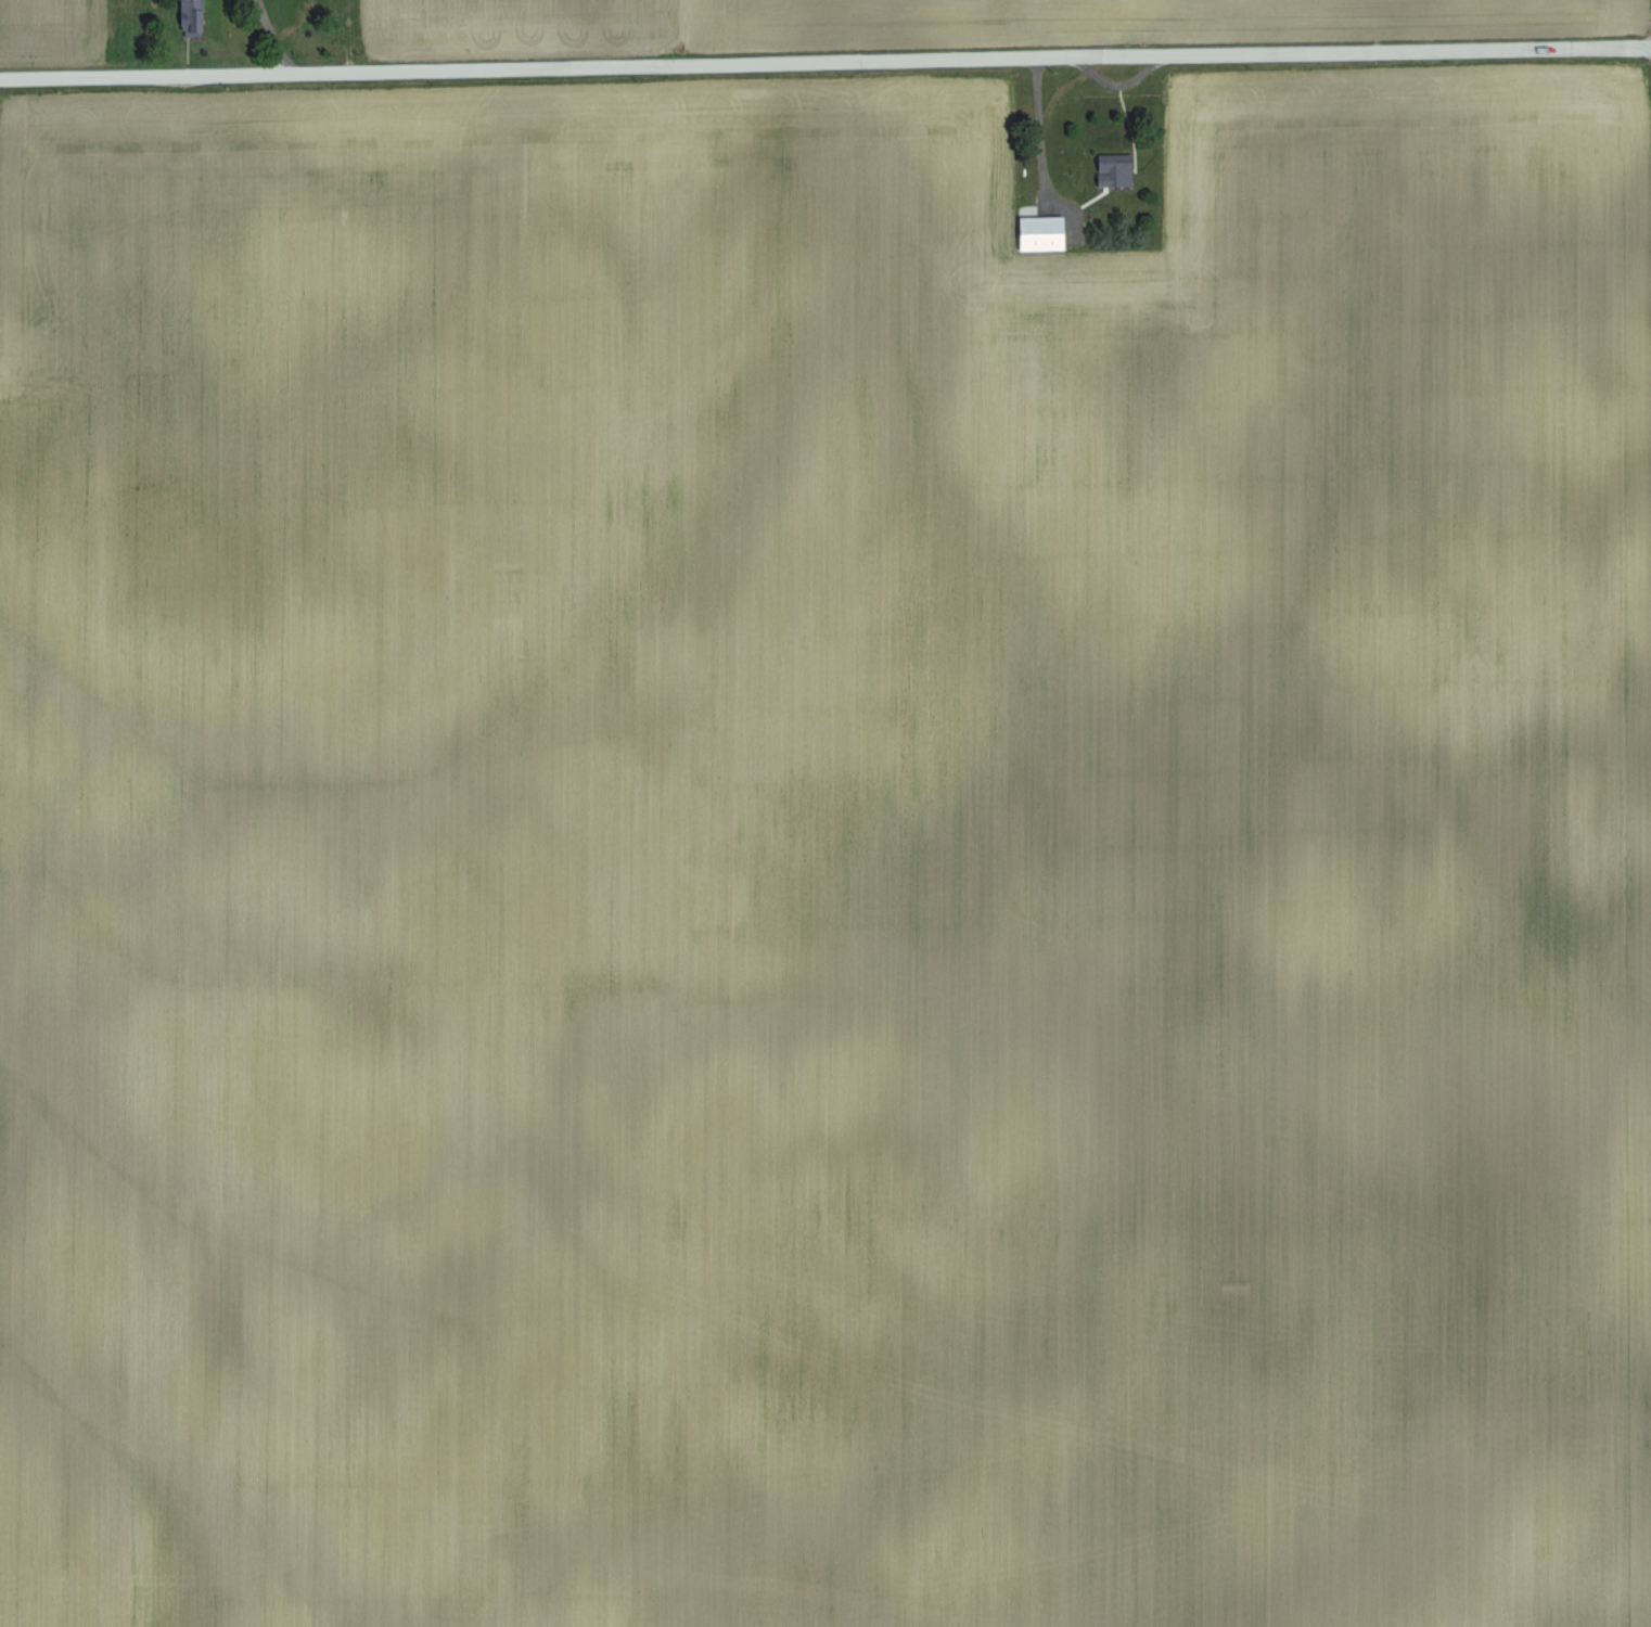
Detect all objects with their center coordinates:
building: (194, 16)
road: (825, 66)
building: (1118, 168)
building: (1045, 232)

